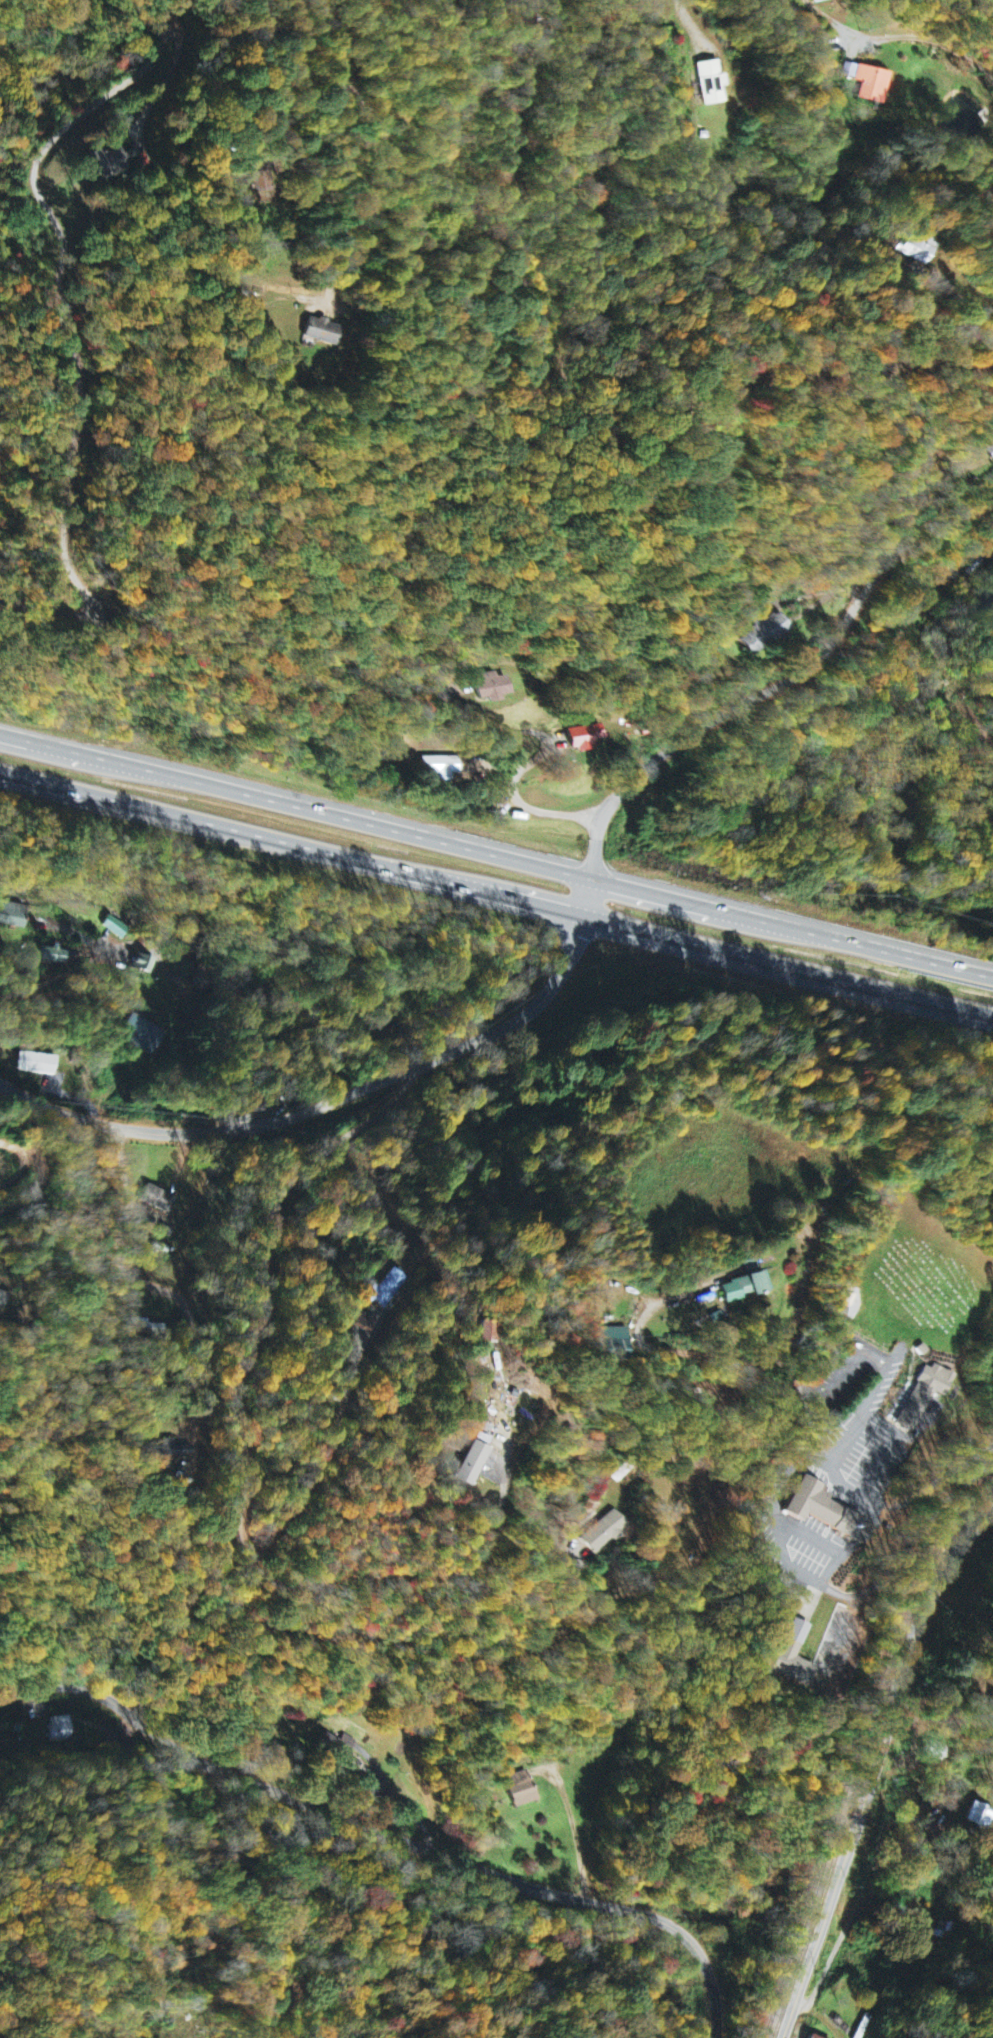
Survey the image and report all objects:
road: (979, 11)
road: (694, 27)
road: (930, 38)
building: (870, 85)
road: (369, 143)
building: (110, 160)
road: (728, 291)
building: (322, 331)
road: (72, 340)
building: (989, 450)
road: (911, 482)
building: (766, 635)
building: (495, 687)
road: (767, 692)
building: (586, 737)
road: (538, 758)
building: (448, 767)
road: (496, 854)
road: (496, 892)
building: (116, 928)
building: (55, 956)
road: (99, 959)
building: (141, 1035)
road: (326, 1098)
building: (238, 1106)
building: (156, 1197)
park: (929, 1277)
road: (805, 1284)
building: (739, 1285)
building: (388, 1290)
road: (237, 1388)
building: (925, 1395)
building: (468, 1465)
road: (865, 1499)
building: (823, 1510)
building: (596, 1542)
building: (793, 1657)
building: (63, 1729)
building: (936, 1751)
railway: (857, 1756)
road: (874, 1771)
building: (521, 1791)
building: (981, 1816)
road: (391, 1829)
road: (876, 1869)
building: (812, 2037)

